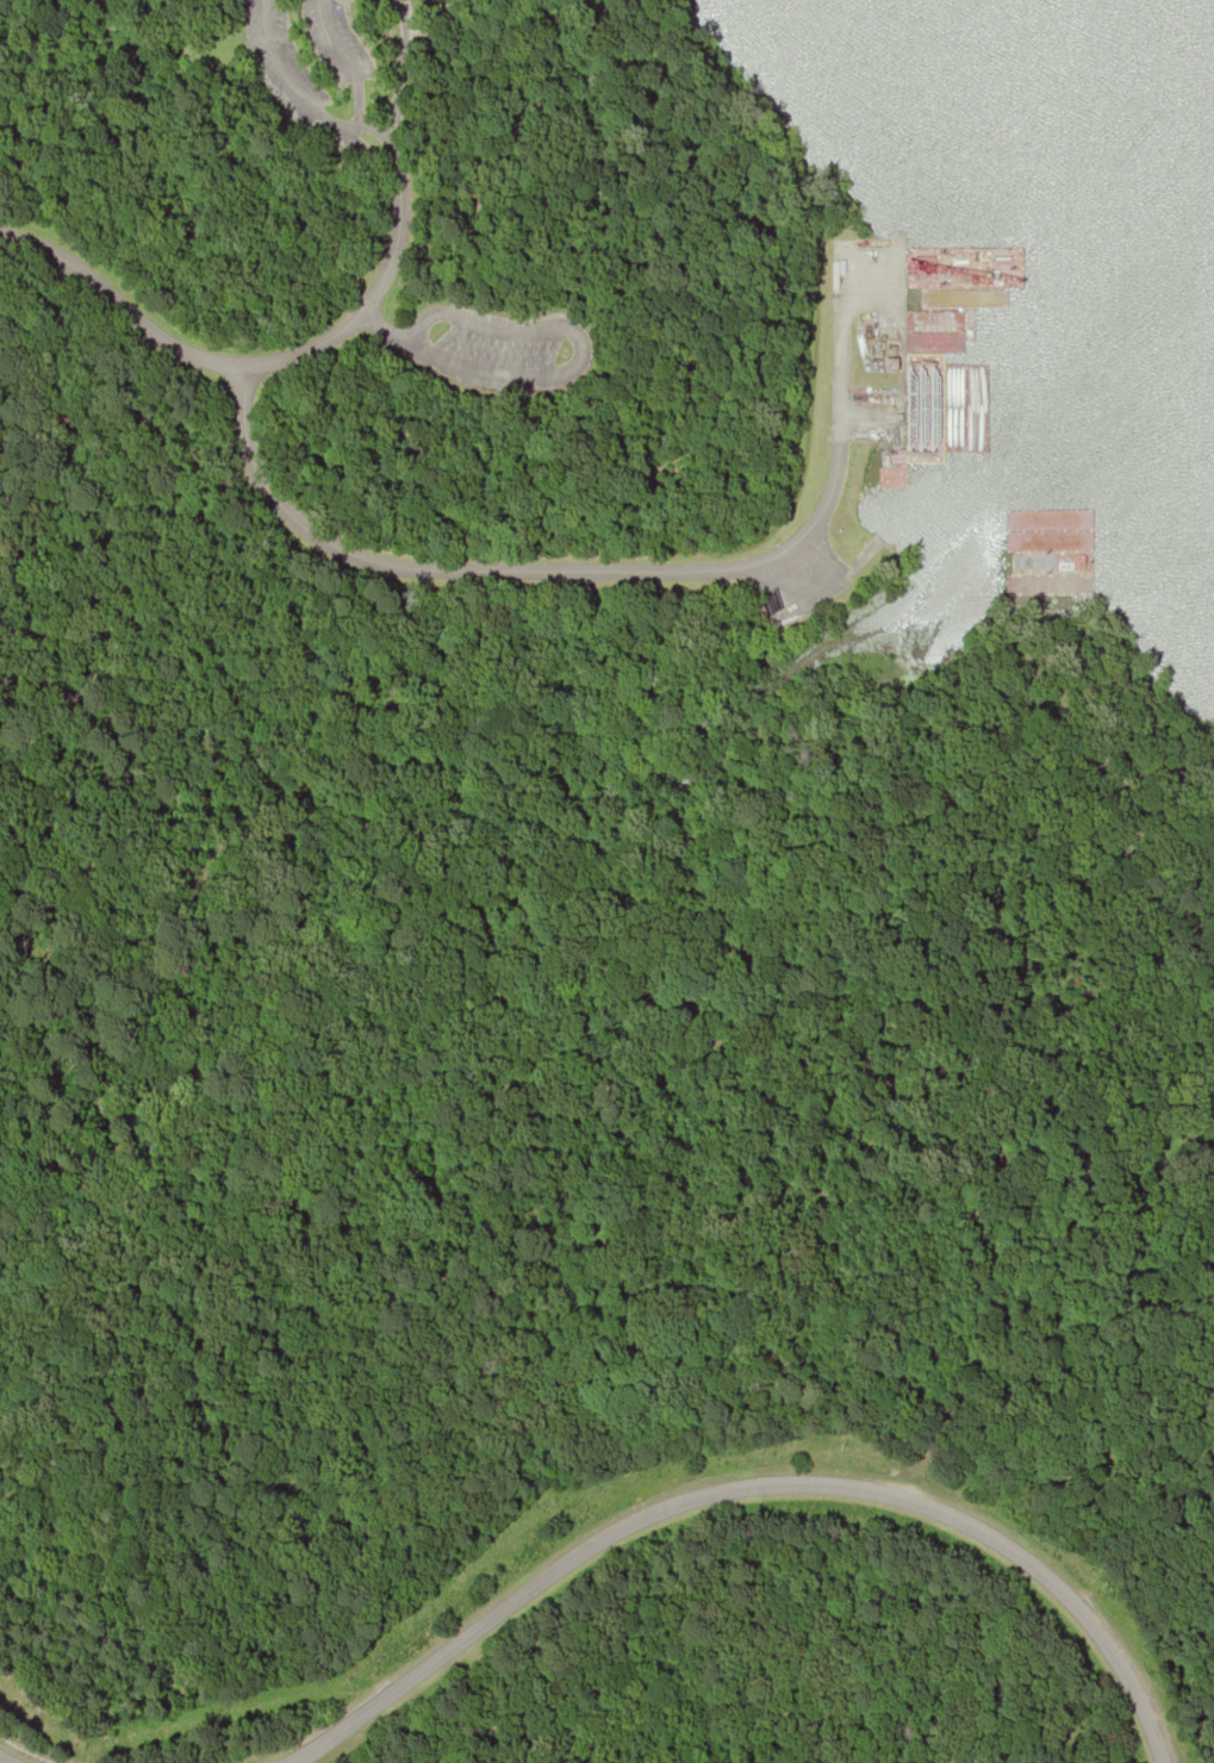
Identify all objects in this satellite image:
road: (366, 130)
road: (253, 362)
road: (581, 569)
road: (749, 1490)
road: (6, 1758)

